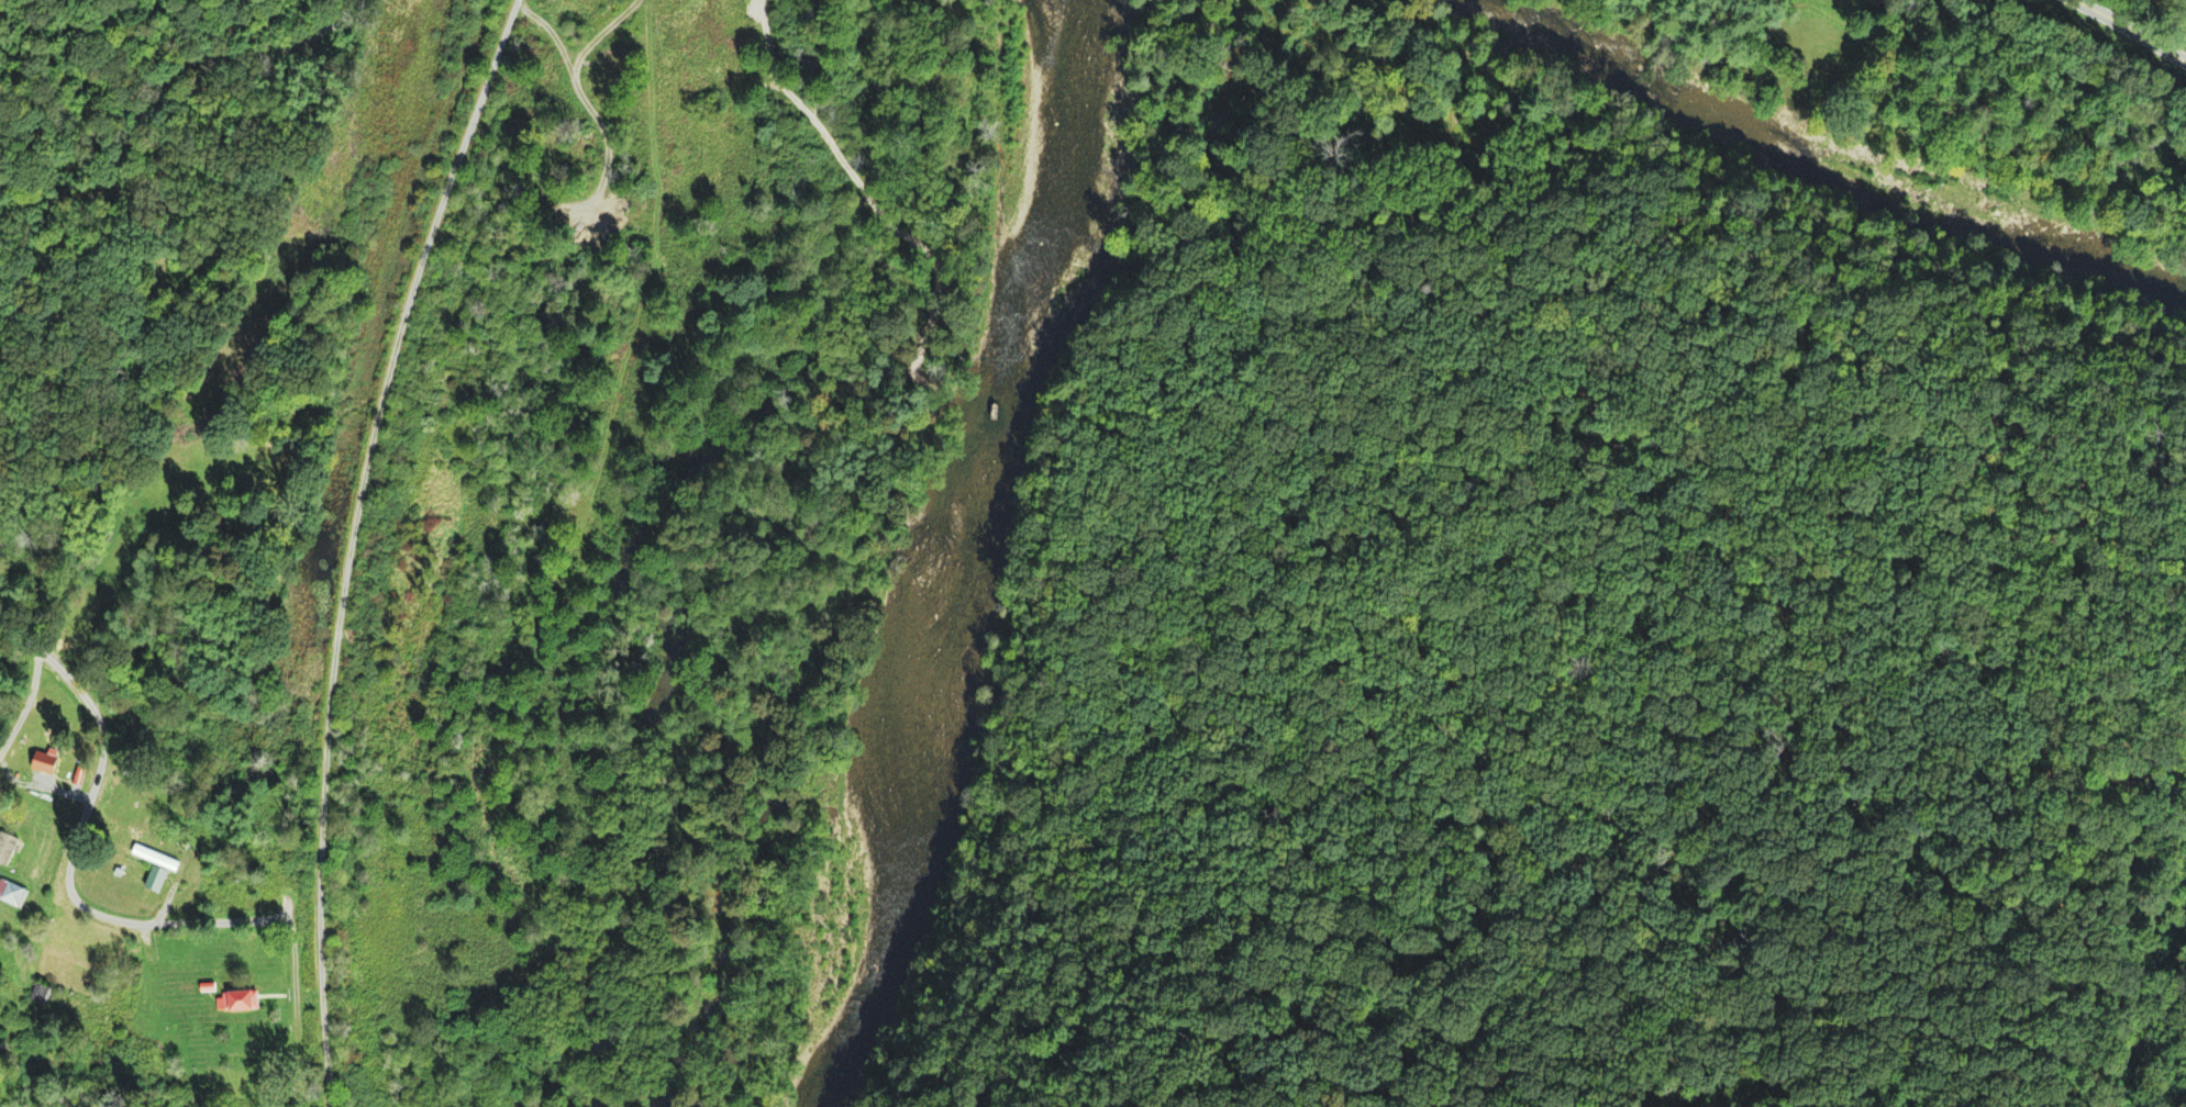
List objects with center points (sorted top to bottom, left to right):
building: (1884, 0)
river: (1070, 2)
road: (2116, 30)
road: (134, 116)
road: (352, 540)
river: (974, 560)
building: (45, 764)
building: (7, 847)
building: (155, 857)
building: (157, 879)
building: (13, 892)
road: (102, 918)
building: (40, 992)
road: (309, 996)
building: (241, 1003)

